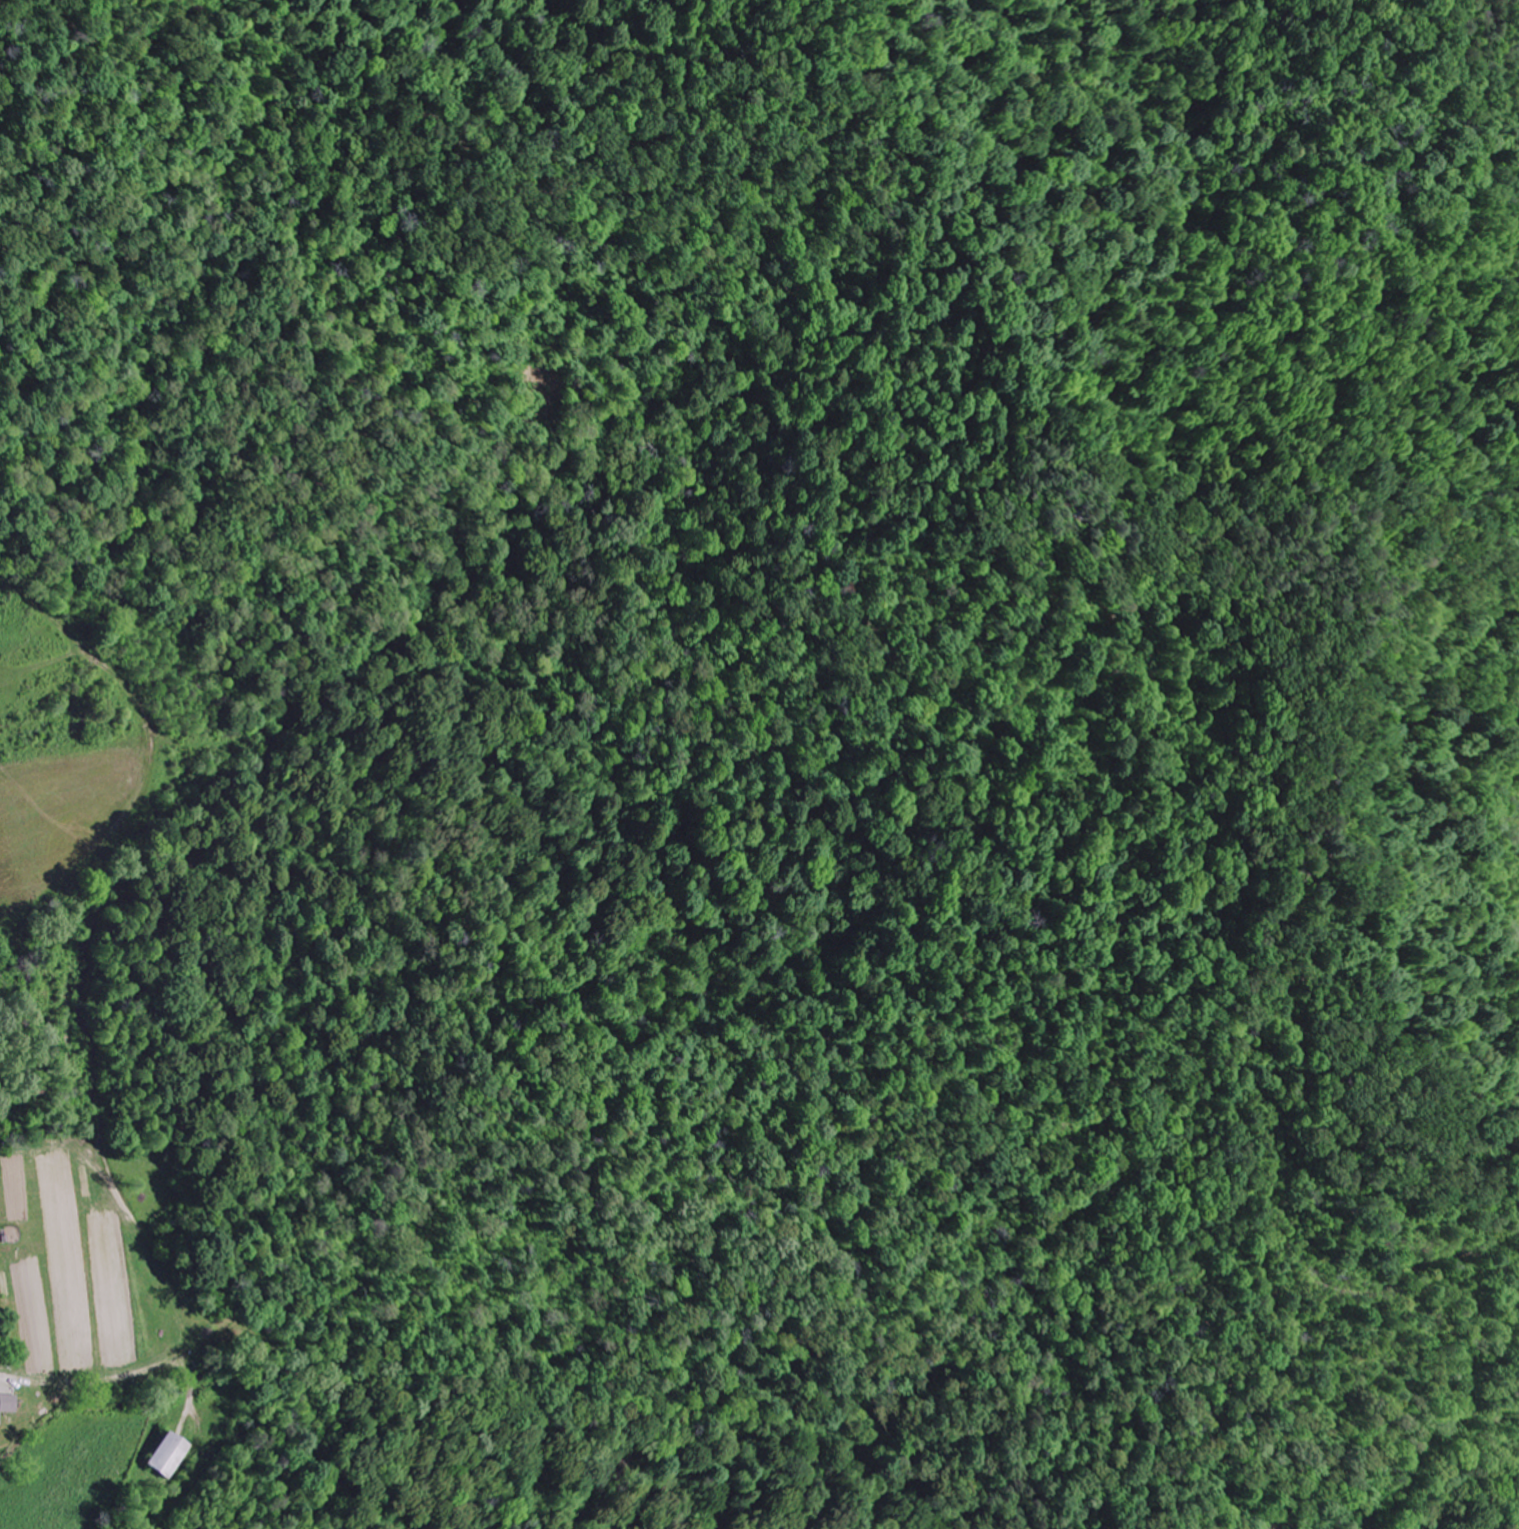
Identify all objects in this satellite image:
road: (130, 1374)
building: (12, 1403)
building: (0, 1421)
building: (173, 1453)

